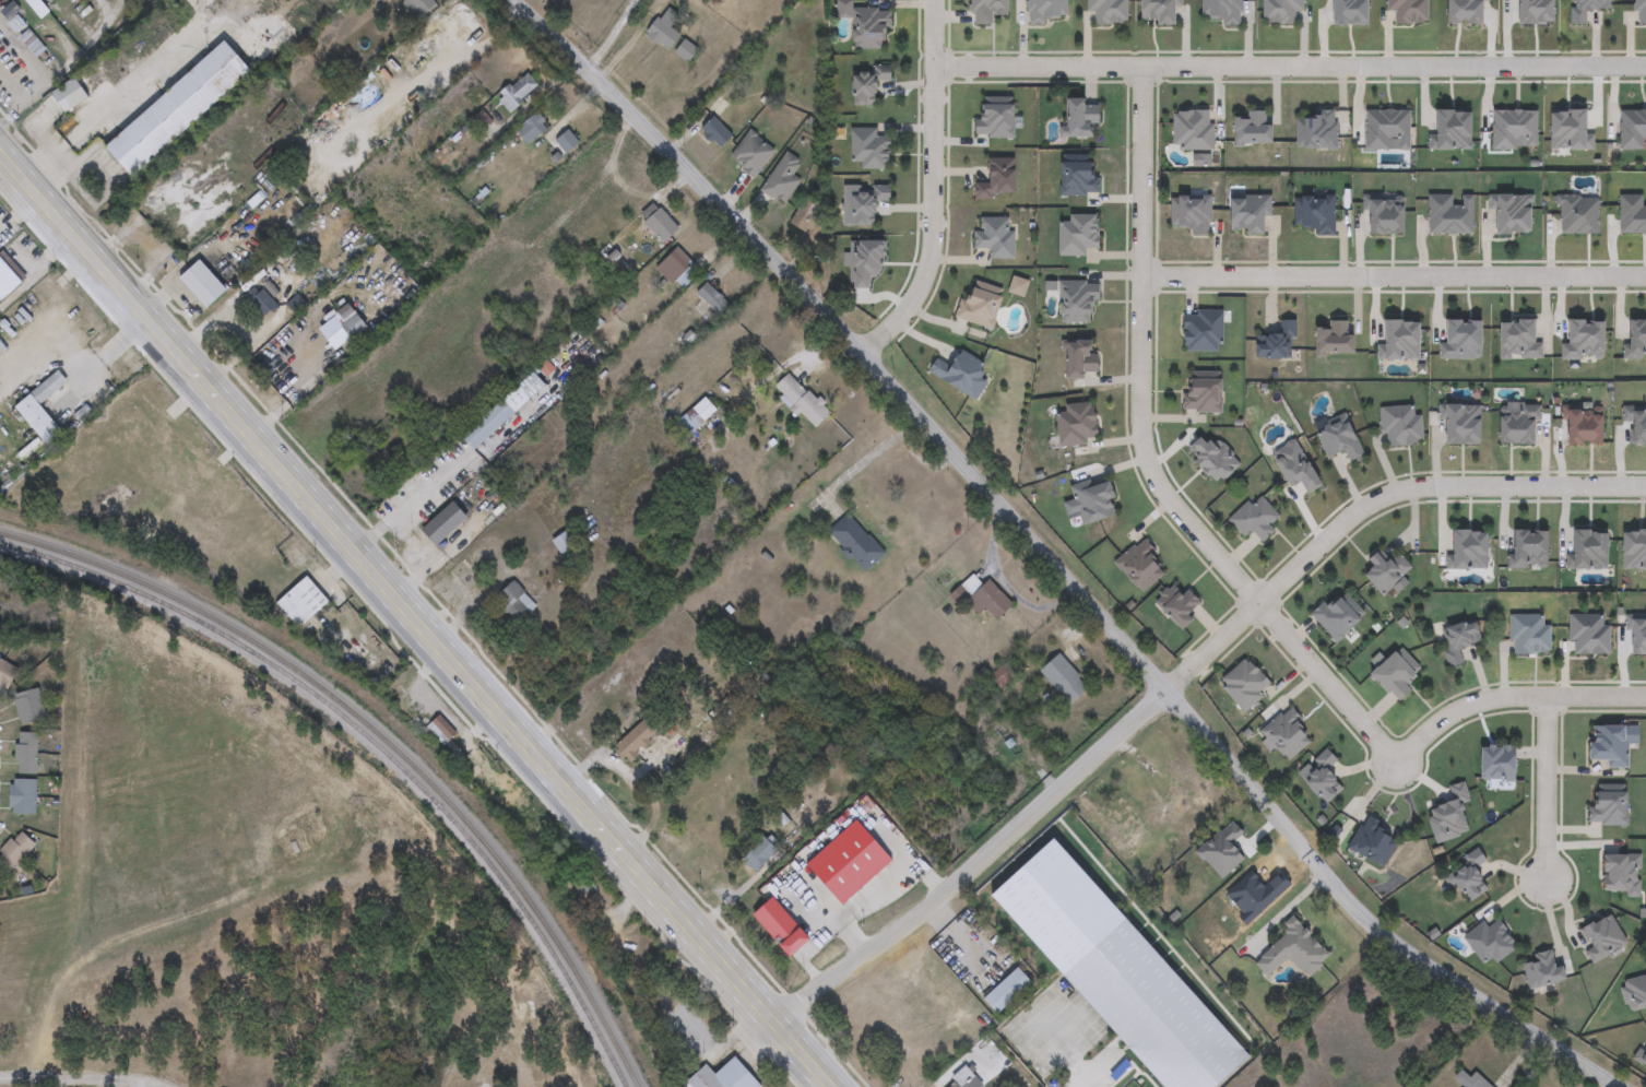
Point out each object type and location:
building: (423, 5)
building: (36, 8)
building: (1588, 10)
building: (986, 11)
building: (1223, 11)
building: (1409, 11)
building: (1045, 12)
building: (1109, 12)
building: (1162, 12)
building: (1282, 12)
building: (1352, 12)
building: (1641, 12)
building: (11, 17)
building: (867, 24)
building: (665, 29)
road: (611, 35)
building: (687, 51)
road: (1288, 68)
road: (38, 74)
building: (486, 79)
building: (868, 84)
building: (518, 93)
building: (70, 96)
building: (178, 109)
building: (996, 119)
building: (1082, 120)
building: (1255, 127)
building: (533, 129)
building: (1633, 130)
building: (1194, 131)
building: (1317, 131)
building: (1387, 131)
building: (1455, 131)
building: (718, 132)
building: (568, 143)
building: (869, 150)
building: (753, 154)
road: (45, 161)
building: (1079, 176)
building: (785, 178)
building: (998, 179)
road: (929, 188)
building: (406, 202)
building: (869, 205)
building: (1192, 215)
building: (1251, 215)
building: (1316, 215)
building: (1387, 215)
building: (1452, 215)
building: (1634, 215)
building: (1580, 216)
building: (660, 224)
building: (1079, 236)
building: (996, 237)
road: (36, 270)
building: (679, 270)
building: (7, 280)
road: (1394, 281)
building: (203, 285)
building: (713, 300)
building: (1078, 304)
building: (981, 307)
building: (352, 323)
building: (1204, 332)
building: (1337, 340)
building: (1637, 340)
building: (1278, 344)
building: (1080, 361)
building: (960, 371)
road: (768, 375)
road: (304, 388)
building: (1204, 394)
building: (803, 401)
building: (40, 410)
building: (504, 412)
road: (530, 413)
building: (697, 418)
building: (1637, 421)
building: (1463, 422)
building: (1586, 423)
building: (1079, 425)
building: (1520, 425)
building: (1401, 426)
building: (1340, 439)
road: (1146, 461)
road: (868, 463)
road: (414, 499)
building: (1096, 500)
building: (1256, 519)
building: (445, 525)
building: (856, 542)
building: (567, 546)
building: (1471, 550)
building: (1529, 550)
building: (1590, 550)
road: (1055, 564)
building: (1142, 566)
building: (1387, 571)
road: (1006, 584)
building: (985, 598)
building: (301, 603)
building: (514, 603)
building: (1179, 605)
building: (1337, 617)
road: (415, 619)
building: (1530, 635)
building: (1590, 635)
building: (1459, 640)
building: (5, 675)
building: (1396, 675)
road: (1181, 678)
building: (1064, 680)
building: (1245, 684)
road: (1509, 699)
building: (28, 708)
building: (440, 731)
building: (1288, 733)
railway: (381, 736)
building: (635, 742)
railway: (374, 743)
building: (1611, 744)
building: (27, 754)
building: (1500, 763)
building: (1323, 778)
road: (1546, 790)
building: (23, 796)
building: (1610, 805)
building: (1374, 841)
building: (14, 852)
building: (758, 854)
road: (926, 876)
building: (1470, 876)
road: (735, 893)
building: (794, 895)
road: (857, 906)
building: (768, 915)
building: (836, 937)
building: (1491, 941)
building: (1293, 952)
building: (818, 961)
building: (1546, 970)
building: (1008, 990)
building: (896, 1031)
road: (1075, 1062)
road: (76, 1077)
building: (722, 1077)
building: (964, 1079)
building: (1471, 1079)

